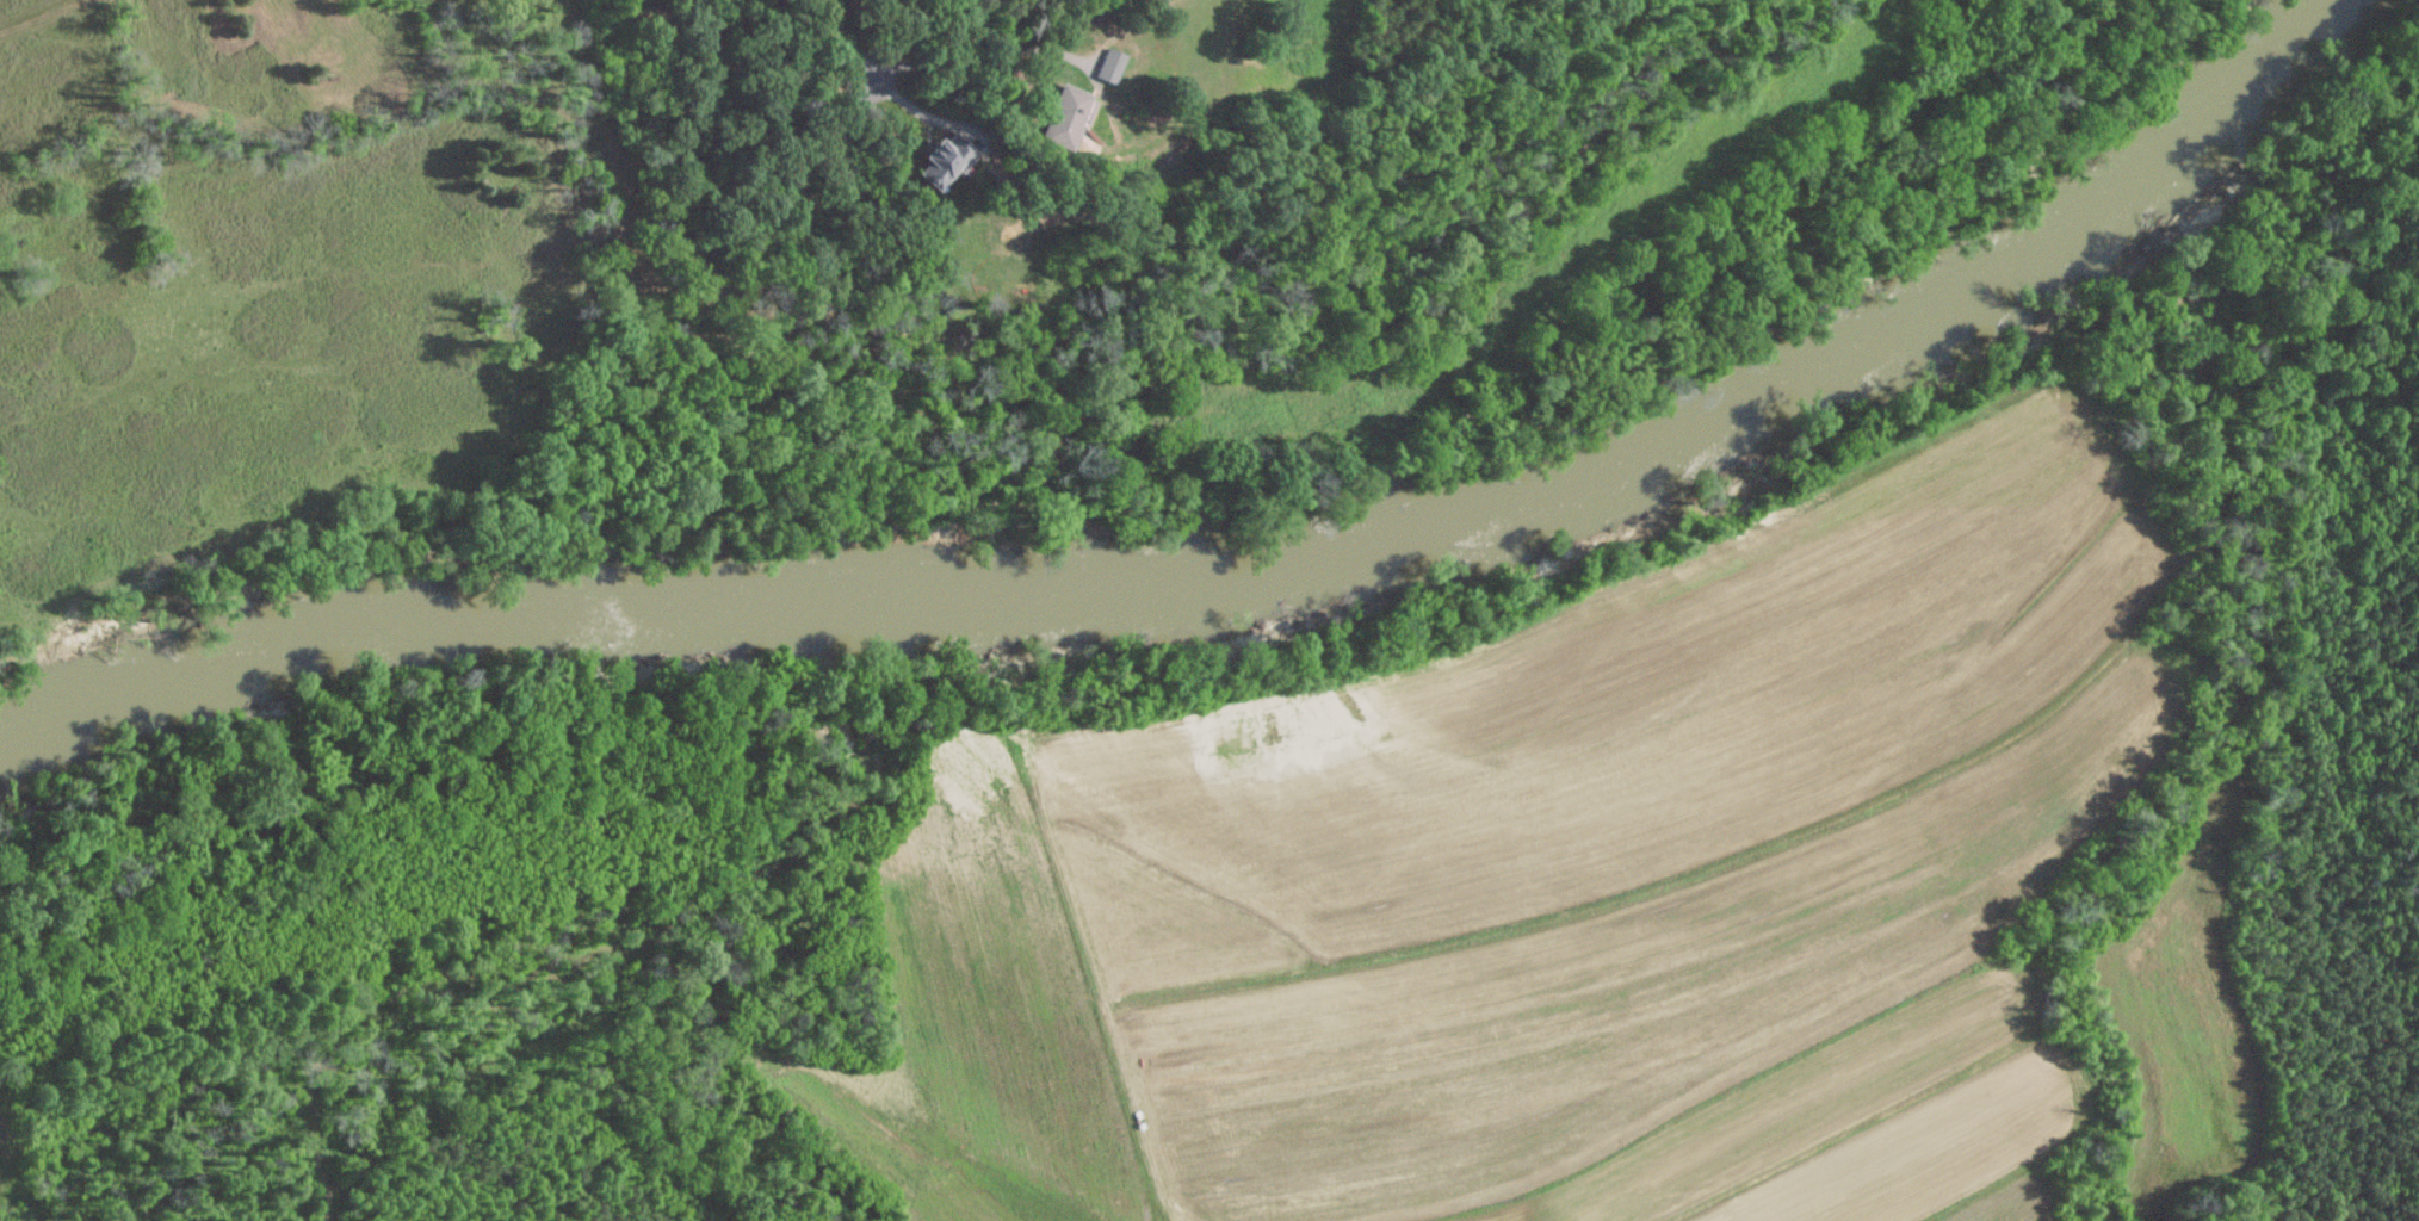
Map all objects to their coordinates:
road: (847, 45)
road: (988, 57)
building: (1110, 64)
road: (922, 110)
building: (1064, 114)
building: (944, 159)
park: (650, 202)
river: (1627, 453)
river: (383, 619)

